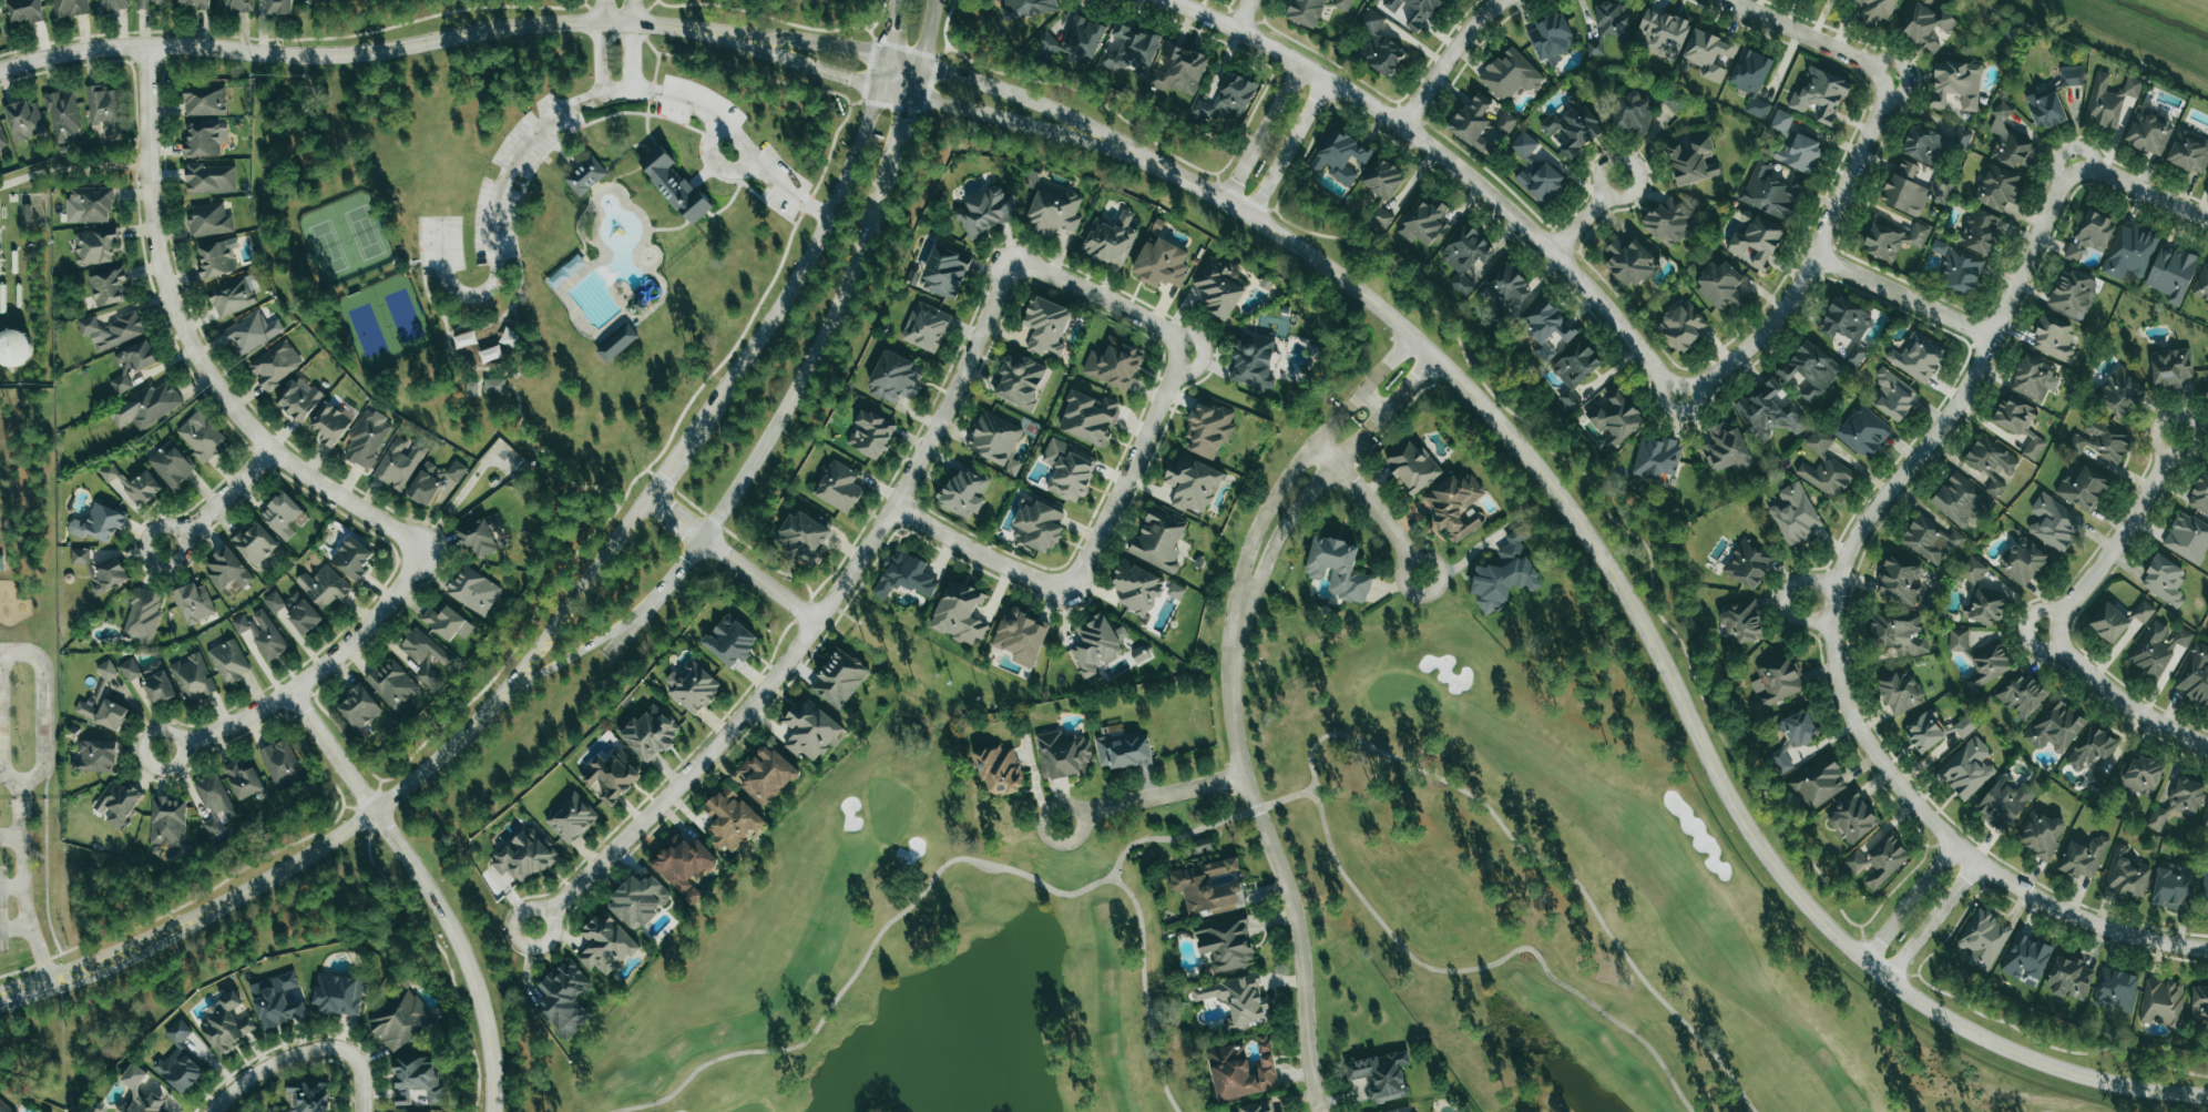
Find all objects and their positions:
building: (149, 3)
building: (195, 3)
building: (111, 4)
building: (1340, 4)
building: (237, 6)
building: (279, 7)
building: (1029, 7)
building: (69, 8)
building: (24, 10)
building: (1414, 10)
road: (603, 11)
building: (1305, 11)
building: (1875, 11)
road: (634, 12)
road: (1243, 16)
building: (1608, 25)
building: (1925, 27)
road: (893, 29)
road: (927, 33)
building: (1662, 33)
building: (1082, 38)
building: (1551, 38)
road: (1808, 38)
building: (1046, 42)
road: (815, 43)
building: (1378, 44)
road: (370, 51)
building: (1131, 52)
building: (1708, 54)
road: (633, 57)
road: (603, 58)
road: (1448, 59)
road: (903, 62)
road: (808, 65)
road: (651, 69)
building: (1179, 70)
road: (882, 72)
building: (1510, 75)
building: (2071, 78)
building: (1751, 80)
road: (916, 81)
building: (1955, 84)
road: (895, 91)
road: (809, 94)
building: (1820, 95)
road: (1016, 96)
building: (1228, 99)
building: (2108, 100)
building: (205, 101)
building: (1674, 101)
building: (1575, 102)
parking lot: (694, 104)
building: (103, 105)
road: (644, 109)
building: (2045, 109)
road: (564, 111)
building: (1632, 114)
building: (63, 115)
building: (24, 120)
road: (1009, 121)
building: (1472, 122)
building: (1504, 124)
road: (903, 126)
building: (1573, 130)
road: (692, 132)
building: (2148, 134)
road: (1259, 135)
building: (2, 139)
building: (205, 139)
building: (2008, 141)
building: (1933, 144)
building: (1523, 145)
building: (1793, 145)
road: (1288, 152)
building: (2189, 152)
road: (562, 154)
building: (1339, 156)
road: (1447, 161)
building: (1693, 161)
road: (73, 170)
parking lot: (517, 175)
building: (585, 175)
road: (696, 176)
building: (2207, 177)
building: (209, 178)
parking lot: (777, 181)
building: (1541, 183)
building: (674, 184)
building: (1997, 187)
building: (1382, 190)
building: (1914, 190)
building: (1771, 192)
road: (2140, 194)
road: (727, 201)
building: (89, 205)
building: (1053, 211)
building: (984, 212)
building: (27, 213)
road: (515, 213)
road: (1586, 215)
building: (208, 220)
building: (1668, 221)
building: (1423, 223)
building: (1980, 232)
building: (2091, 236)
building: (1110, 239)
building: (1892, 239)
park: (540, 241)
building: (1755, 241)
park: (344, 242)
parking lot: (440, 245)
building: (95, 247)
road: (416, 247)
building: (1939, 247)
building: (2129, 252)
road: (1813, 255)
building: (1464, 256)
building: (215, 259)
building: (1629, 263)
road: (403, 264)
building: (1161, 264)
road: (800, 266)
building: (944, 272)
building: (1961, 272)
building: (2171, 274)
building: (2201, 284)
building: (1720, 286)
building: (109, 287)
building: (1219, 287)
building: (1504, 287)
building: (2072, 294)
road: (1901, 295)
building: (232, 297)
road: (447, 320)
park: (385, 324)
road: (505, 324)
road: (480, 326)
building: (1046, 326)
building: (1683, 326)
building: (926, 327)
building: (1546, 327)
building: (1847, 327)
building: (112, 329)
building: (252, 333)
building: (2054, 338)
building: (464, 339)
building: (616, 343)
road: (191, 347)
building: (14, 348)
building: (1916, 357)
building: (1254, 360)
building: (132, 364)
building: (1114, 364)
building: (275, 365)
road: (1386, 365)
building: (1574, 370)
building: (1810, 370)
building: (2171, 370)
road: (801, 376)
building: (896, 378)
building: (2033, 379)
building: (1019, 381)
building: (493, 385)
road: (1167, 385)
road: (1408, 385)
building: (471, 389)
building: (2205, 390)
building: (2119, 391)
building: (1893, 395)
road: (1957, 396)
building: (298, 398)
road: (1372, 401)
building: (146, 406)
road: (1674, 408)
building: (1770, 412)
building: (1088, 418)
building: (1614, 418)
building: (330, 424)
building: (2018, 424)
building: (1208, 428)
building: (1863, 431)
building: (870, 435)
building: (201, 438)
building: (367, 439)
building: (994, 440)
building: (2102, 441)
building: (1726, 449)
building: (1657, 458)
building: (399, 462)
building: (1990, 462)
building: (171, 465)
road: (671, 465)
building: (1824, 467)
building: (1413, 468)
building: (1069, 470)
building: (133, 483)
building: (1192, 483)
road: (1282, 484)
building: (838, 487)
building: (2083, 489)
building: (963, 493)
building: (2200, 494)
road: (221, 499)
road: (1304, 499)
building: (1959, 500)
road: (600, 501)
building: (1455, 506)
road: (1368, 508)
road: (640, 510)
building: (1795, 514)
building: (282, 516)
building: (99, 523)
building: (2054, 523)
building: (1036, 526)
building: (480, 535)
building: (804, 535)
building: (1159, 539)
building: (2187, 539)
building: (1930, 540)
building: (254, 543)
road: (980, 552)
building: (351, 558)
road: (734, 559)
building: (2023, 562)
building: (1747, 563)
building: (226, 569)
building: (1338, 569)
building: (1971, 570)
building: (101, 571)
building: (1504, 575)
building: (904, 577)
building: (2164, 580)
building: (1899, 581)
building: (324, 586)
building: (1136, 588)
building: (473, 591)
building: (1175, 591)
road: (1782, 596)
building: (194, 603)
building: (1985, 608)
building: (294, 610)
building: (959, 613)
building: (142, 615)
road: (560, 616)
road: (2053, 619)
building: (2118, 621)
building: (1741, 622)
building: (447, 623)
road: (815, 625)
building: (1898, 630)
building: (260, 633)
building: (1021, 636)
building: (1957, 640)
building: (730, 641)
building: (1096, 644)
road: (582, 647)
road: (1652, 647)
building: (2156, 647)
road: (21, 653)
building: (1139, 654)
building: (423, 655)
building: (228, 661)
building: (1987, 665)
building: (130, 670)
building: (106, 671)
road: (310, 675)
building: (2195, 675)
building: (193, 676)
building: (839, 679)
building: (1776, 681)
building: (156, 683)
building: (392, 684)
building: (692, 686)
building: (1900, 691)
building: (2021, 694)
building: (359, 707)
building: (102, 712)
building: (2054, 727)
building: (1935, 730)
building: (810, 731)
building: (650, 733)
building: (1793, 738)
road: (333, 749)
building: (1123, 751)
building: (2092, 751)
building: (1063, 755)
building: (96, 756)
building: (282, 765)
building: (1966, 768)
building: (999, 771)
building: (765, 775)
building: (611, 776)
building: (243, 779)
building: (1818, 784)
road: (1152, 797)
building: (2004, 802)
building: (115, 803)
building: (214, 803)
building: (2177, 803)
road: (356, 806)
road: (22, 814)
building: (571, 818)
building: (730, 819)
building: (1852, 819)
building: (2205, 819)
building: (167, 822)
building: (2041, 835)
building: (1202, 846)
road: (1959, 847)
road: (1274, 854)
building: (524, 856)
building: (2083, 857)
building: (1878, 860)
building: (684, 865)
building: (2126, 875)
road: (259, 880)
building: (1208, 886)
building: (2174, 886)
road: (11, 887)
building: (2205, 890)
park: (1562, 891)
park: (1562, 891)
road: (25, 899)
building: (638, 899)
road: (1909, 900)
road: (1933, 918)
road: (16, 929)
building: (1983, 939)
building: (1226, 942)
building: (605, 945)
road: (459, 950)
park: (916, 957)
park: (916, 957)
building: (2025, 957)
building: (2068, 978)
building: (2116, 990)
building: (337, 993)
building: (564, 999)
building: (1237, 1000)
building: (276, 1001)
building: (2161, 1003)
building: (2199, 1003)
building: (400, 1020)
building: (225, 1024)
building: (178, 1031)
road: (304, 1051)
building: (1241, 1070)
building: (178, 1071)
building: (1381, 1075)
building: (418, 1080)
building: (133, 1084)
building: (307, 1096)
building: (4, 1108)
building: (1255, 1108)
building: (1401, 1110)

